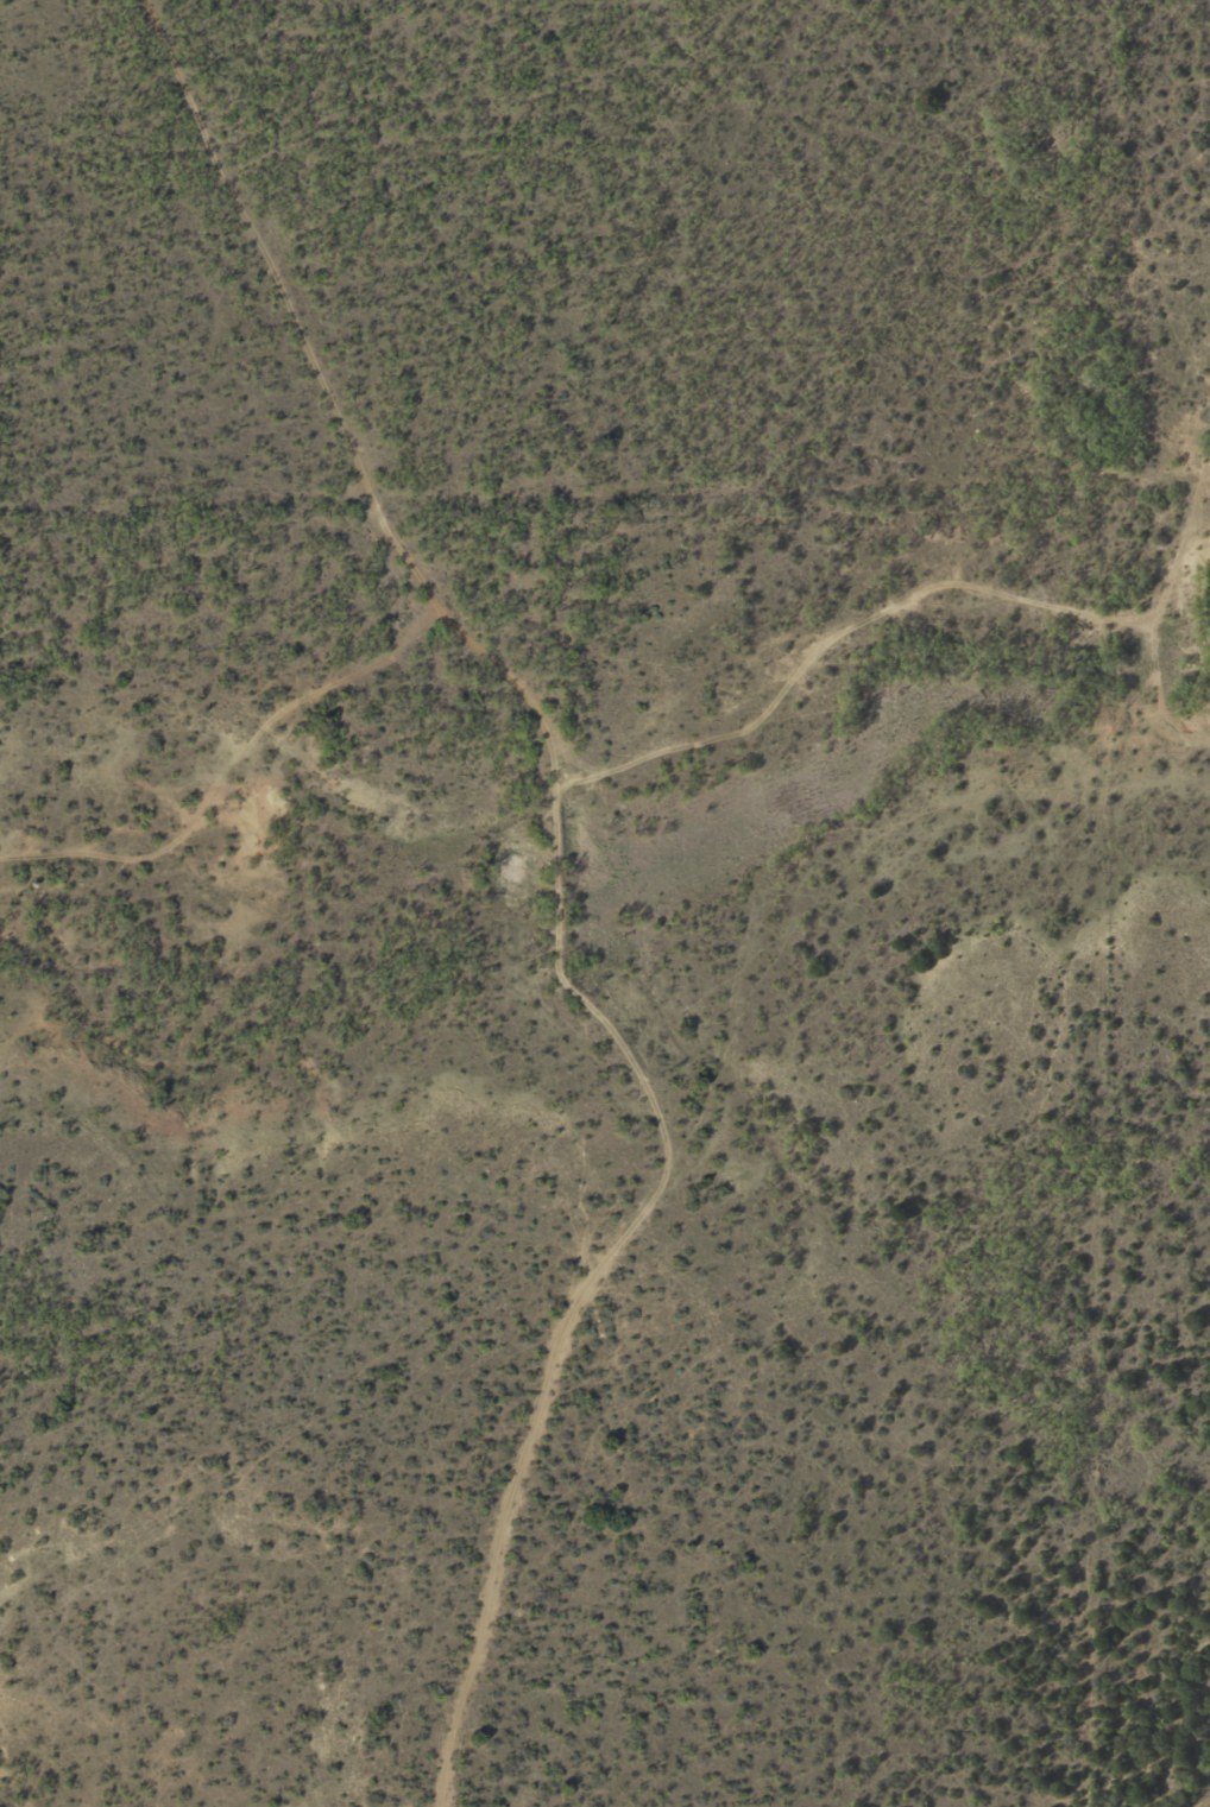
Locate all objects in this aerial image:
road: (950, 669)
road: (705, 840)
road: (1206, 1795)

